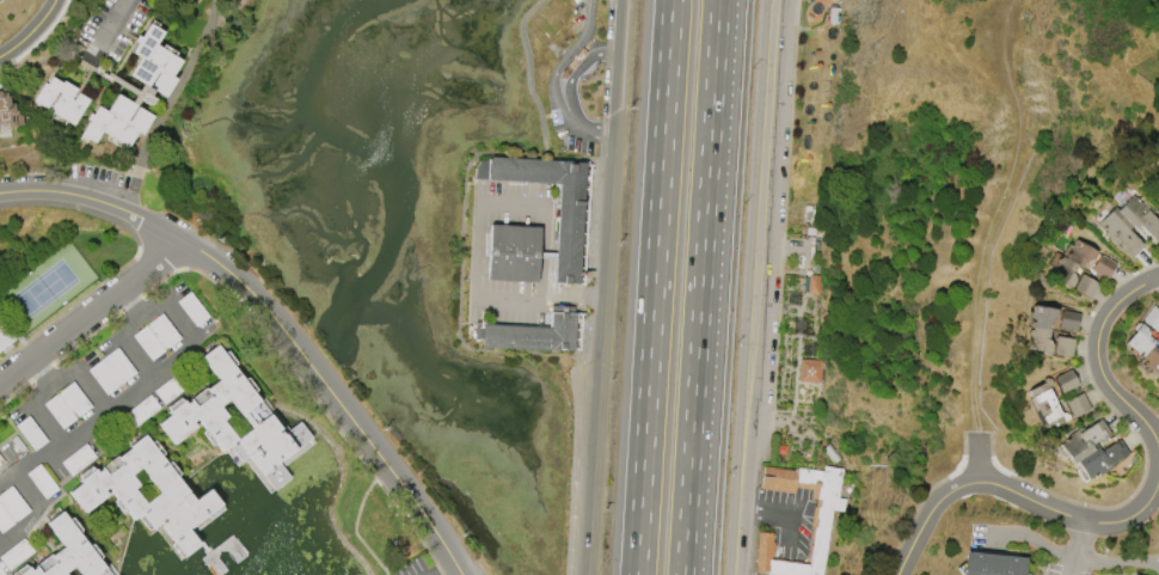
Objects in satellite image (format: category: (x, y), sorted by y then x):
road: (30, 31)
road: (110, 33)
road: (582, 59)
road: (557, 81)
building: (134, 91)
building: (59, 99)
building: (6, 111)
road: (139, 186)
building: (1158, 200)
building: (1139, 216)
building: (1118, 232)
building: (568, 233)
road: (479, 237)
building: (511, 252)
building: (1079, 252)
building: (1103, 265)
building: (1063, 271)
road: (1158, 282)
building: (812, 283)
building: (1085, 286)
road: (605, 287)
road: (652, 287)
road: (700, 287)
road: (760, 287)
building: (191, 308)
road: (172, 313)
road: (92, 317)
building: (1041, 317)
road: (275, 318)
building: (1066, 319)
building: (1151, 319)
building: (5, 335)
building: (532, 335)
building: (155, 336)
building: (1137, 340)
road: (105, 341)
building: (1036, 341)
building: (1158, 341)
building: (1062, 347)
road: (1105, 354)
road: (131, 359)
building: (1151, 359)
building: (111, 371)
building: (809, 371)
building: (1065, 380)
building: (172, 387)
road: (88, 392)
building: (1041, 393)
building: (1075, 404)
building: (67, 405)
building: (141, 410)
building: (1051, 415)
building: (195, 417)
road: (96, 422)
building: (31, 433)
building: (1083, 440)
building: (78, 459)
building: (1099, 459)
road: (7, 473)
building: (41, 481)
road: (26, 487)
road: (1013, 490)
building: (171, 497)
building: (11, 508)
road: (781, 509)
road: (358, 520)
building: (827, 520)
parking lot: (793, 521)
road: (1084, 538)
building: (16, 553)
building: (68, 553)
road: (1075, 556)
building: (992, 564)
road: (1075, 565)
building: (1, 571)
road: (447, 571)

